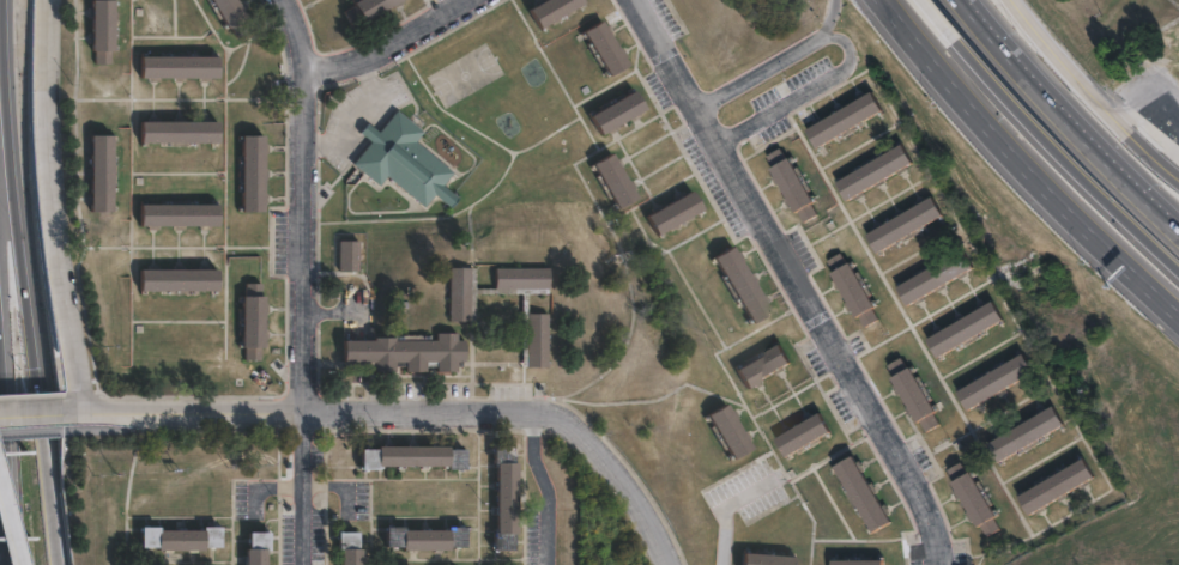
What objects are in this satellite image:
building: (368, 10)
building: (554, 11)
road: (948, 11)
building: (234, 16)
road: (839, 19)
building: (102, 30)
road: (297, 35)
building: (1174, 38)
road: (393, 44)
building: (606, 49)
park: (1131, 53)
road: (52, 66)
building: (179, 67)
road: (757, 71)
road: (554, 73)
road: (617, 80)
road: (800, 92)
road: (1145, 95)
road: (1088, 96)
road: (180, 98)
building: (617, 113)
road: (358, 114)
building: (846, 120)
road: (1069, 121)
road: (474, 127)
road: (1173, 128)
building: (180, 132)
road: (1063, 152)
road: (1026, 157)
road: (1167, 157)
building: (405, 162)
road: (693, 171)
building: (876, 171)
building: (101, 174)
building: (253, 174)
road: (131, 182)
building: (616, 182)
building: (793, 184)
road: (663, 188)
building: (676, 213)
building: (180, 215)
road: (424, 215)
building: (906, 225)
road: (610, 227)
road: (646, 235)
road: (179, 247)
building: (352, 256)
road: (66, 274)
building: (936, 278)
building: (521, 279)
building: (180, 280)
road: (791, 280)
road: (30, 282)
building: (743, 285)
building: (854, 290)
building: (460, 294)
road: (695, 297)
road: (304, 318)
road: (903, 318)
building: (253, 322)
road: (1018, 328)
building: (967, 330)
building: (538, 341)
road: (870, 345)
building: (407, 353)
building: (764, 366)
building: (997, 382)
building: (914, 394)
road: (646, 397)
road: (749, 411)
road: (401, 412)
road: (30, 415)
building: (731, 432)
building: (1027, 435)
building: (804, 436)
building: (413, 458)
road: (391, 476)
road: (545, 487)
road: (477, 488)
road: (522, 488)
building: (1057, 488)
building: (863, 494)
building: (506, 499)
building: (974, 500)
road: (722, 509)
building: (181, 540)
building: (425, 540)
road: (4, 548)
building: (258, 548)
building: (349, 548)
building: (767, 560)
building: (858, 563)

